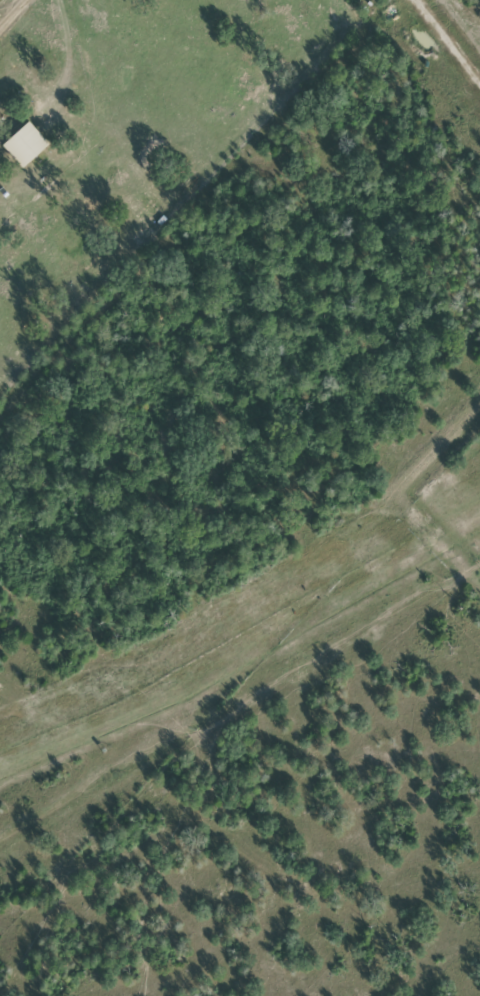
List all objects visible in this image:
building: (19, 142)

